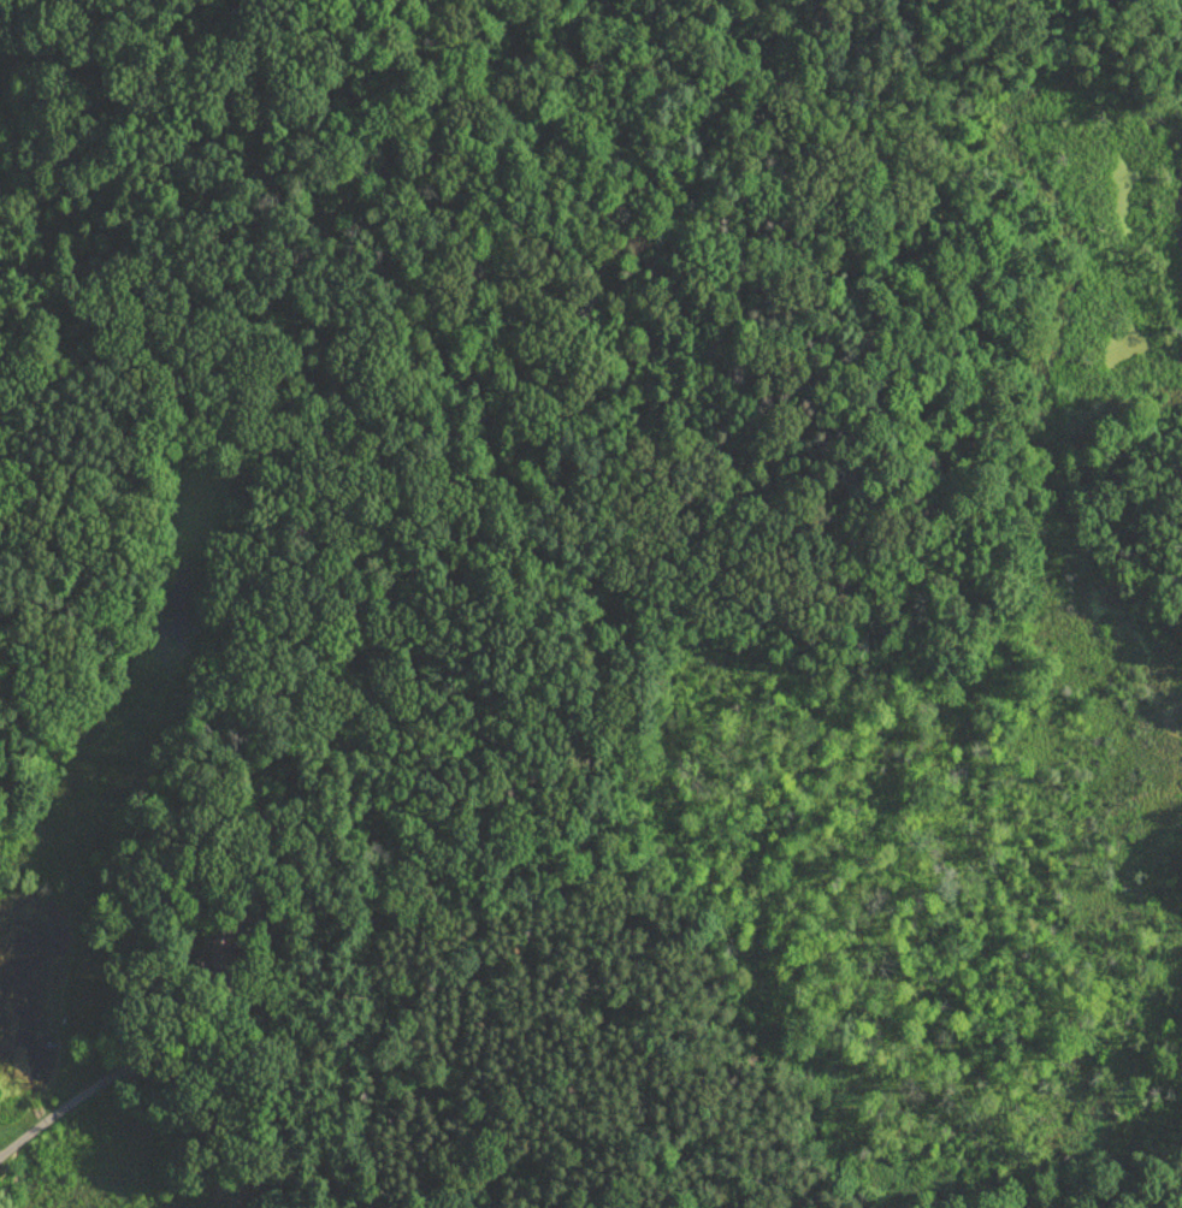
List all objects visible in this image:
road: (267, 979)
road: (61, 1111)

